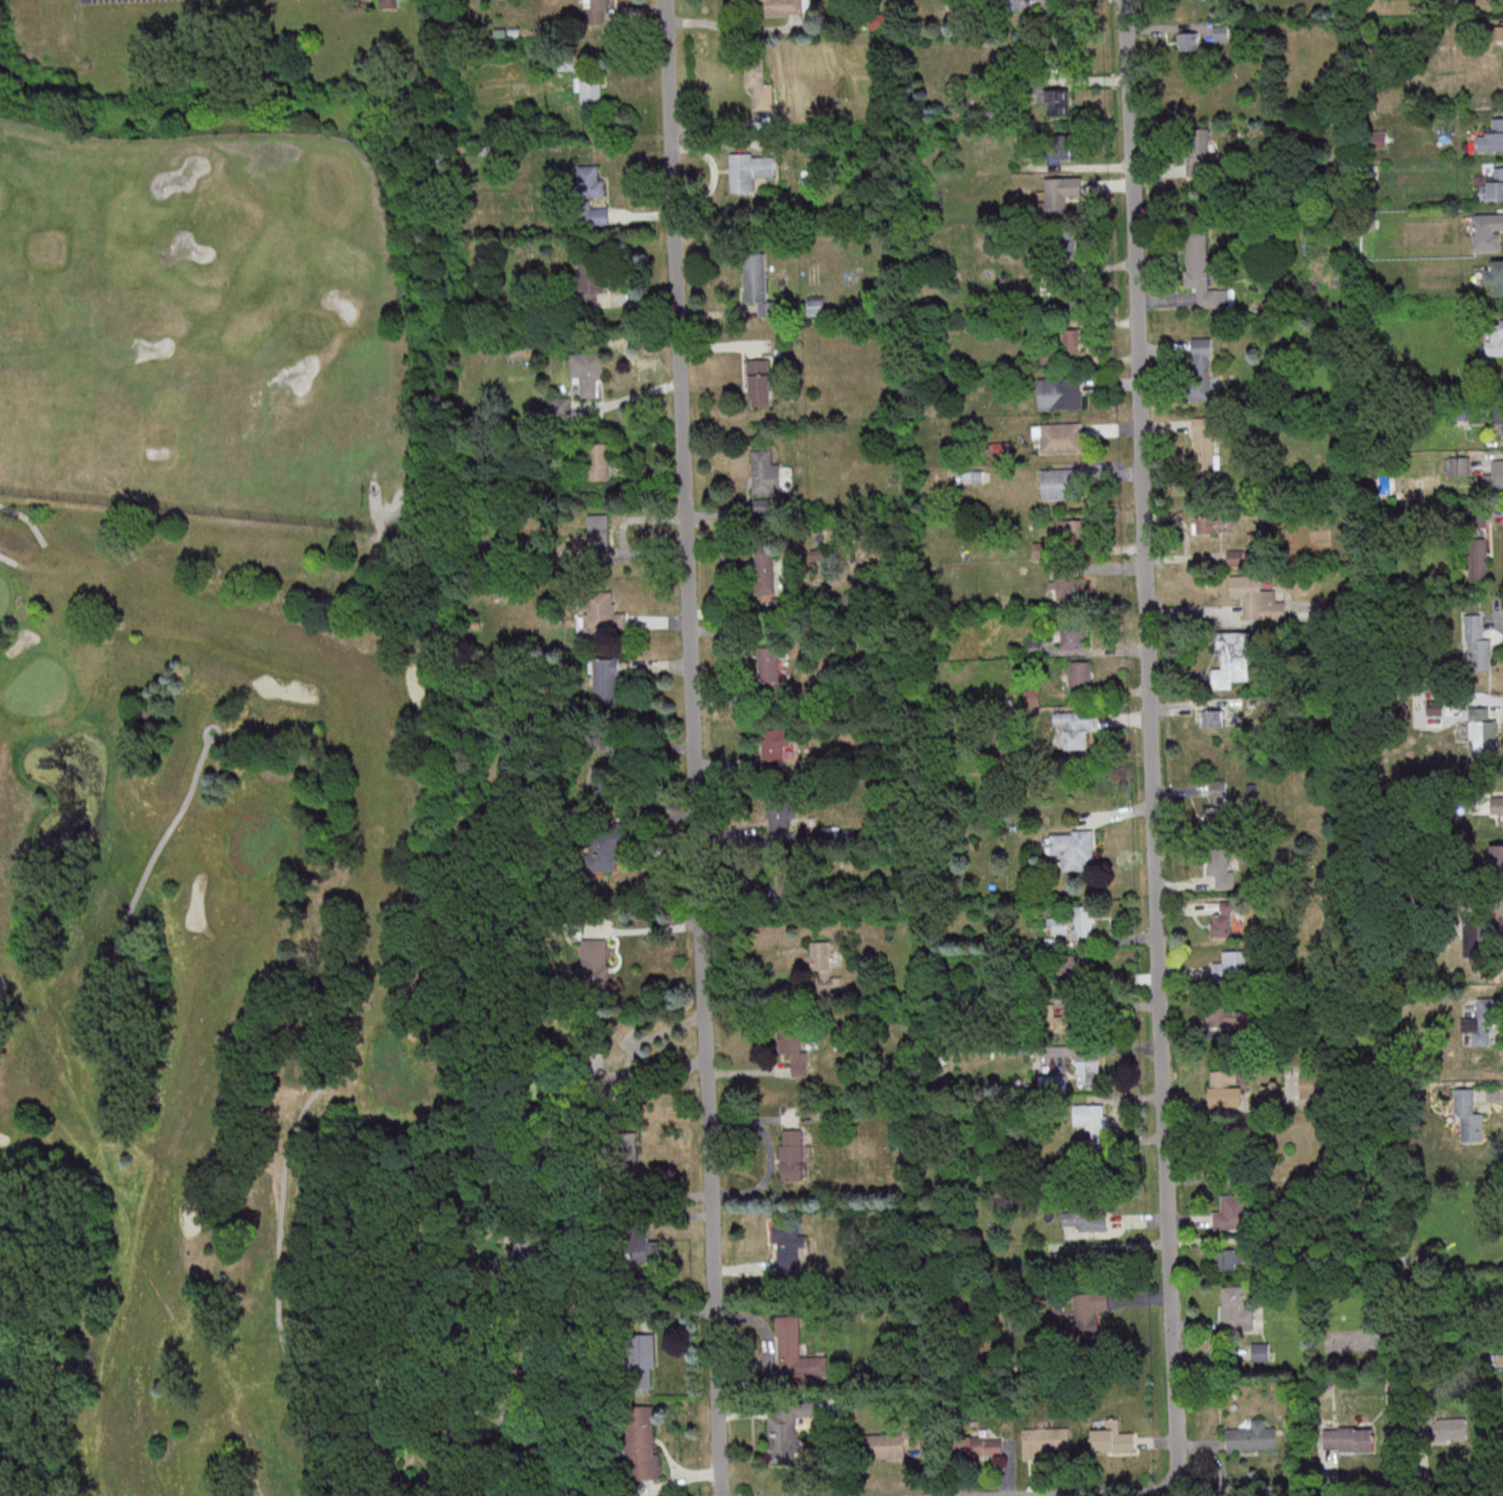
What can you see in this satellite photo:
building: (1466, 0)
building: (599, 4)
building: (762, 10)
building: (877, 20)
building: (1189, 40)
road: (630, 54)
building: (755, 83)
building: (589, 90)
building: (1055, 99)
park: (2, 101)
building: (1492, 137)
building: (1059, 146)
building: (1199, 153)
building: (741, 172)
building: (1493, 186)
building: (1059, 194)
building: (588, 198)
building: (1488, 231)
building: (1068, 246)
building: (1198, 270)
building: (1496, 276)
building: (754, 278)
building: (589, 281)
building: (816, 305)
park: (228, 307)
building: (1072, 340)
building: (1495, 340)
building: (1198, 371)
building: (591, 375)
building: (758, 383)
building: (1058, 392)
building: (561, 405)
building: (1499, 419)
building: (1058, 436)
building: (1204, 446)
building: (597, 462)
building: (1457, 465)
building: (761, 471)
building: (974, 476)
building: (1495, 477)
building: (1058, 482)
road: (26, 520)
building: (1208, 524)
building: (1073, 528)
building: (598, 539)
building: (1477, 545)
building: (1038, 550)
building: (1238, 557)
road: (8, 560)
building: (761, 567)
building: (1074, 588)
building: (1256, 598)
building: (601, 611)
road: (1225, 624)
building: (1073, 634)
building: (1477, 644)
building: (1035, 646)
building: (1234, 661)
building: (767, 670)
building: (1080, 673)
building: (603, 677)
building: (1212, 717)
building: (1076, 726)
building: (1483, 730)
building: (770, 743)
road: (1152, 746)
road: (694, 747)
building: (605, 781)
road: (1494, 793)
building: (1218, 802)
building: (1497, 804)
building: (775, 809)
building: (602, 847)
building: (1075, 848)
building: (1497, 856)
building: (1221, 867)
building: (784, 876)
road: (143, 877)
building: (1223, 920)
building: (1085, 921)
building: (1477, 937)
building: (1074, 964)
building: (593, 965)
building: (1231, 965)
building: (823, 969)
park: (214, 976)
building: (1228, 1015)
building: (1053, 1019)
building: (1482, 1019)
building: (790, 1047)
building: (591, 1052)
building: (1090, 1068)
building: (1225, 1087)
building: (1314, 1091)
building: (1469, 1115)
building: (1091, 1117)
building: (624, 1153)
building: (789, 1154)
building: (1232, 1212)
building: (1086, 1218)
building: (641, 1242)
building: (789, 1246)
building: (528, 1247)
road: (276, 1257)
building: (1230, 1258)
road: (605, 1309)
building: (1235, 1309)
building: (1087, 1315)
building: (1262, 1350)
building: (793, 1354)
building: (638, 1355)
building: (784, 1428)
building: (1447, 1428)
building: (1112, 1437)
building: (1252, 1437)
building: (1349, 1438)
building: (1046, 1440)
building: (885, 1445)
building: (980, 1445)
building: (540, 1452)
building: (639, 1454)
road: (1315, 1490)

